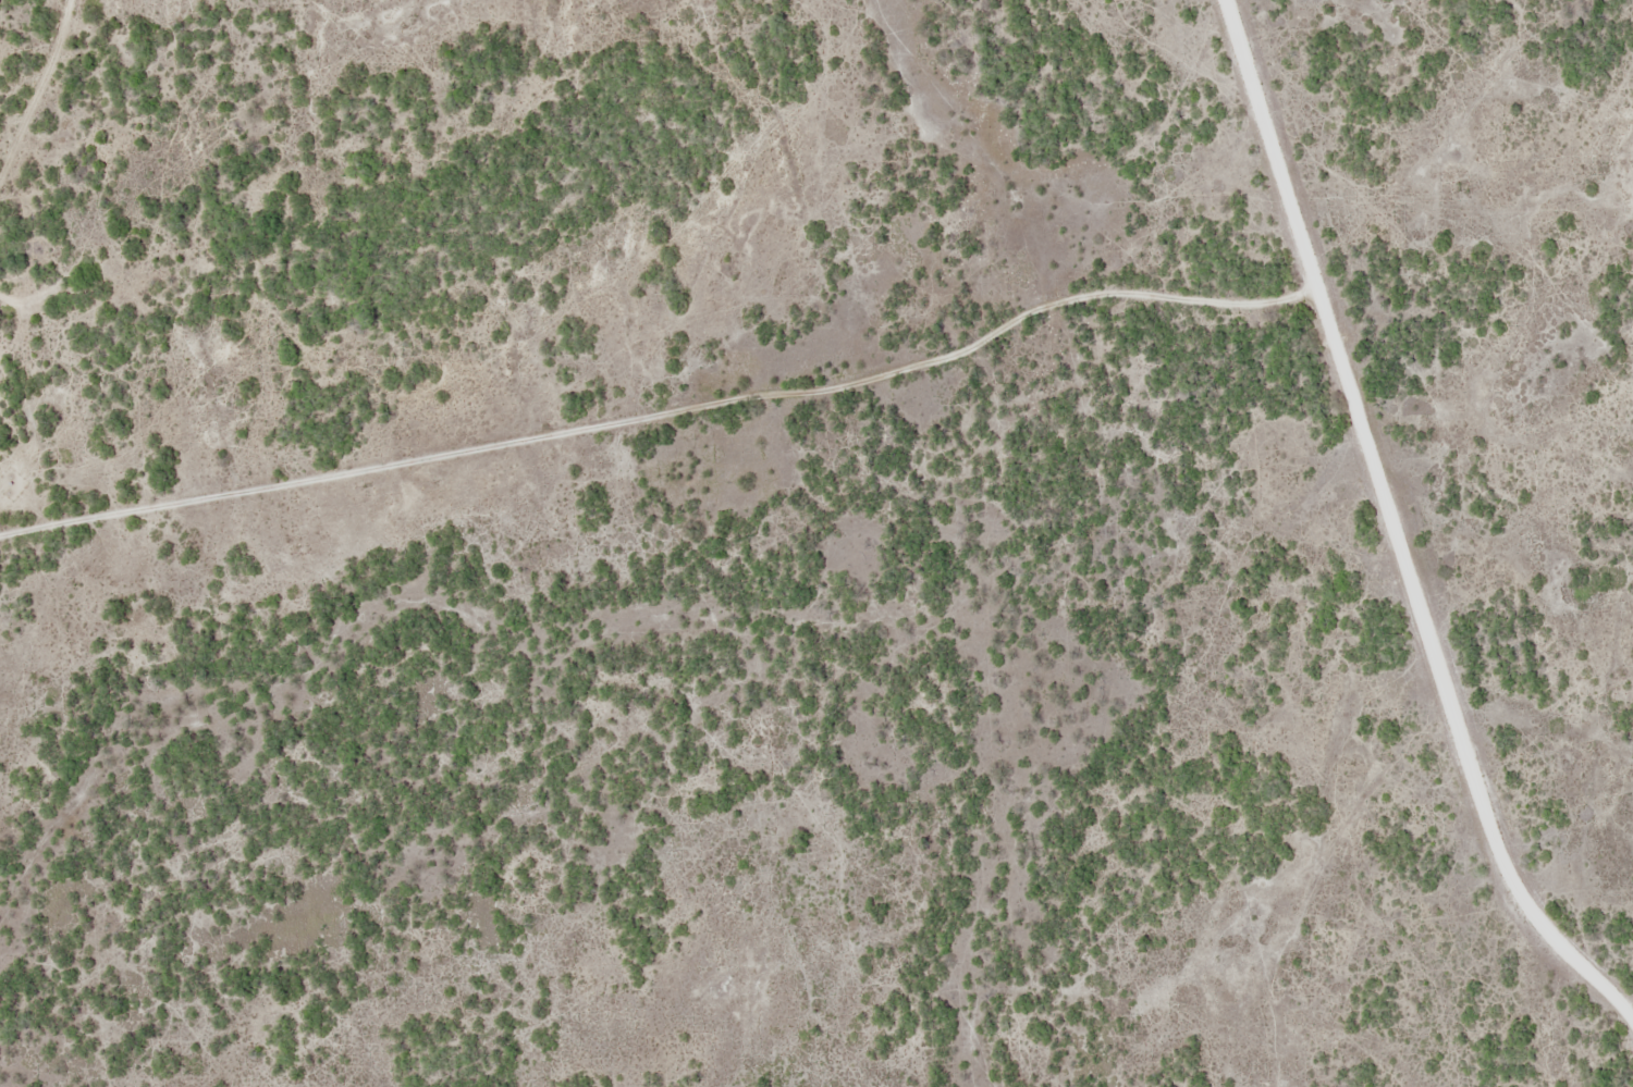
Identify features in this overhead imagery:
road: (1305, 125)
road: (1095, 316)

